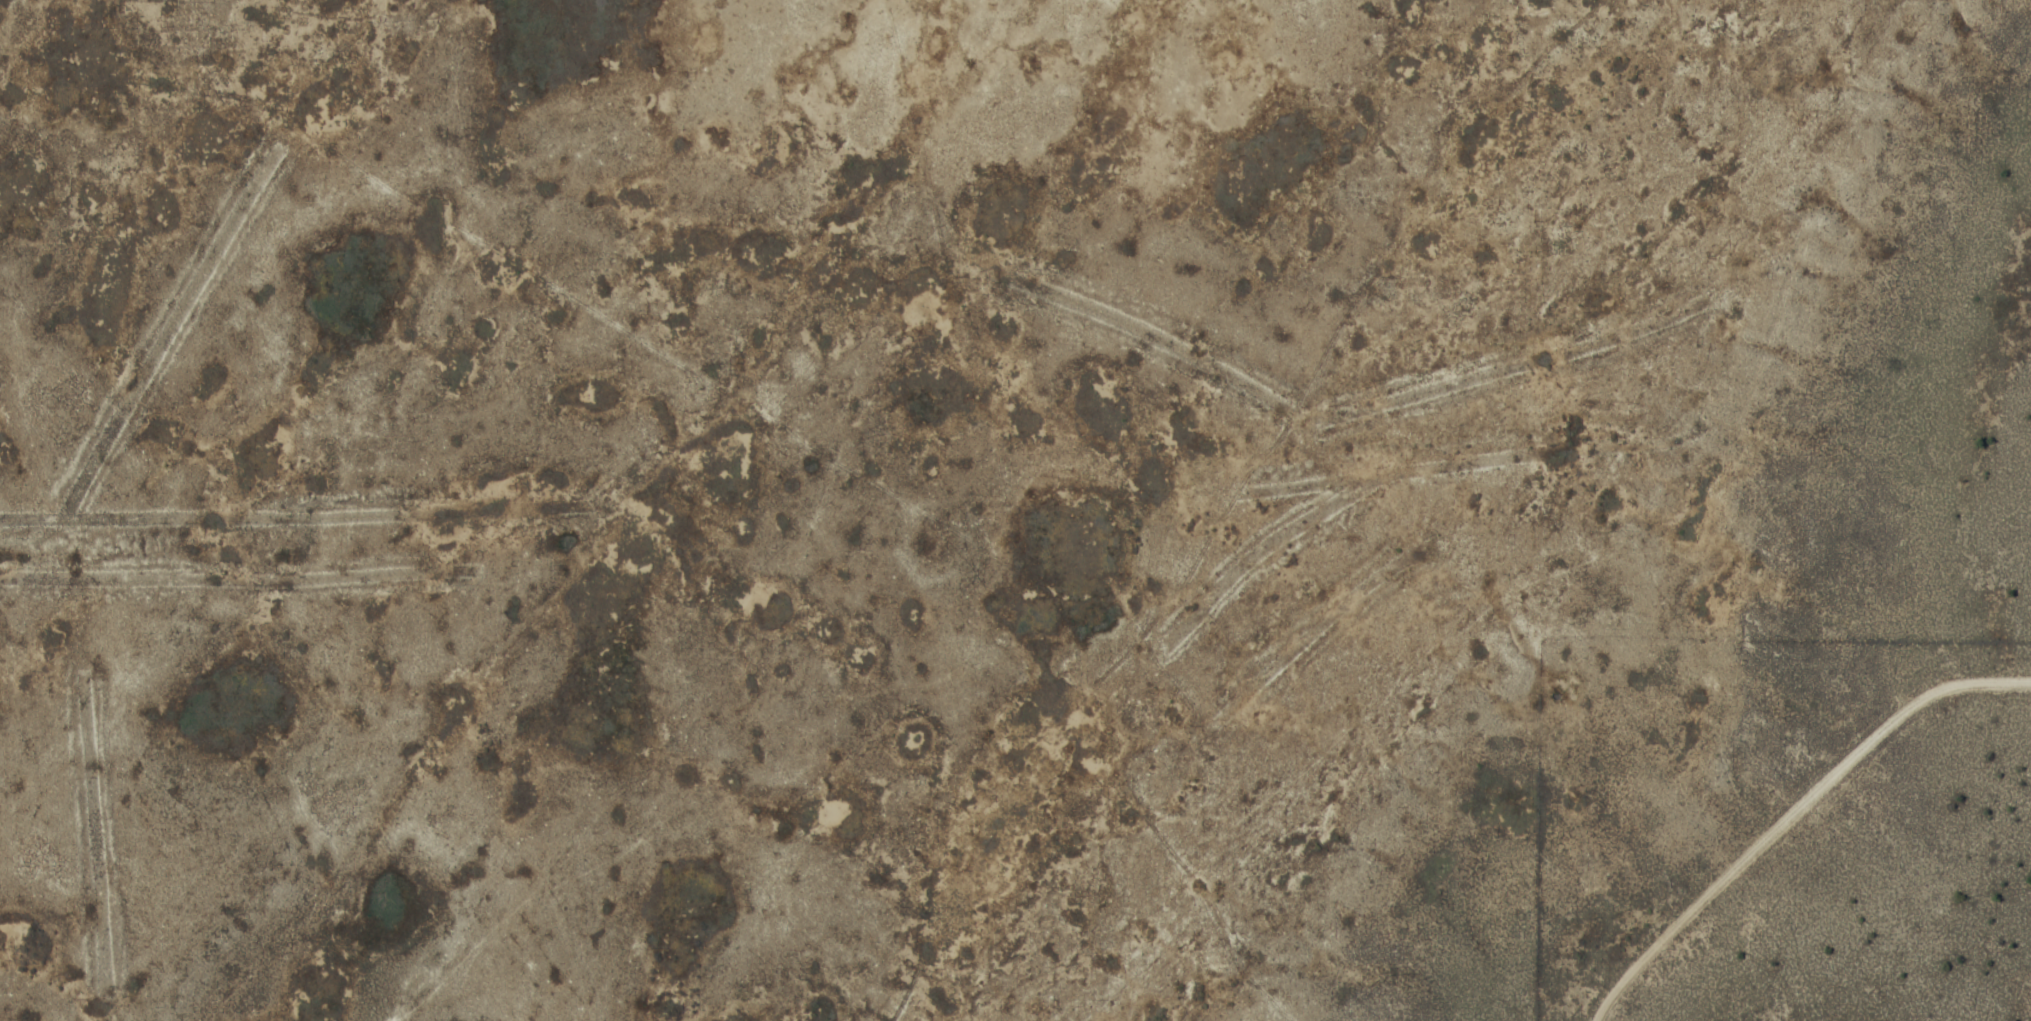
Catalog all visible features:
road: (1778, 800)

